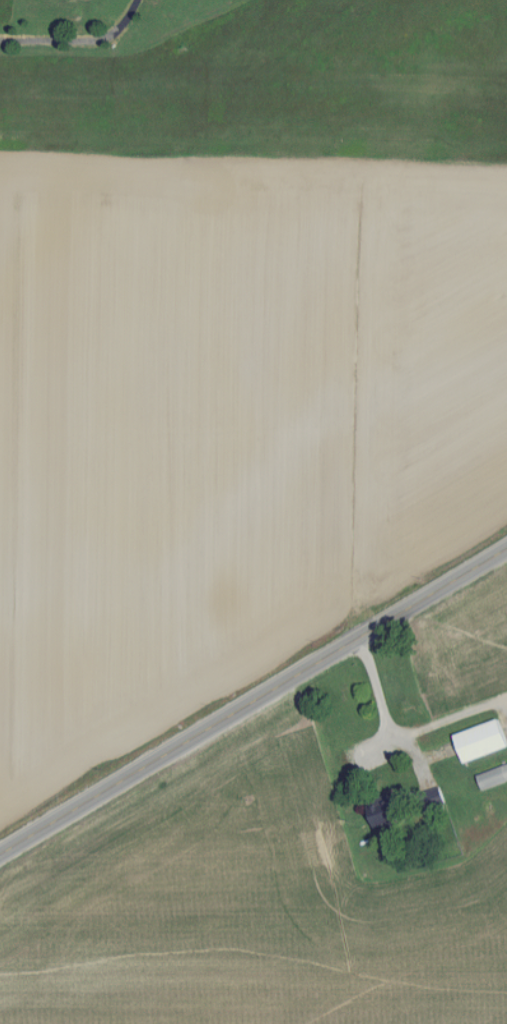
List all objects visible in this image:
road: (81, 42)
road: (253, 700)
road: (386, 710)
road: (447, 720)
building: (483, 740)
building: (493, 777)
building: (436, 796)
building: (389, 811)

